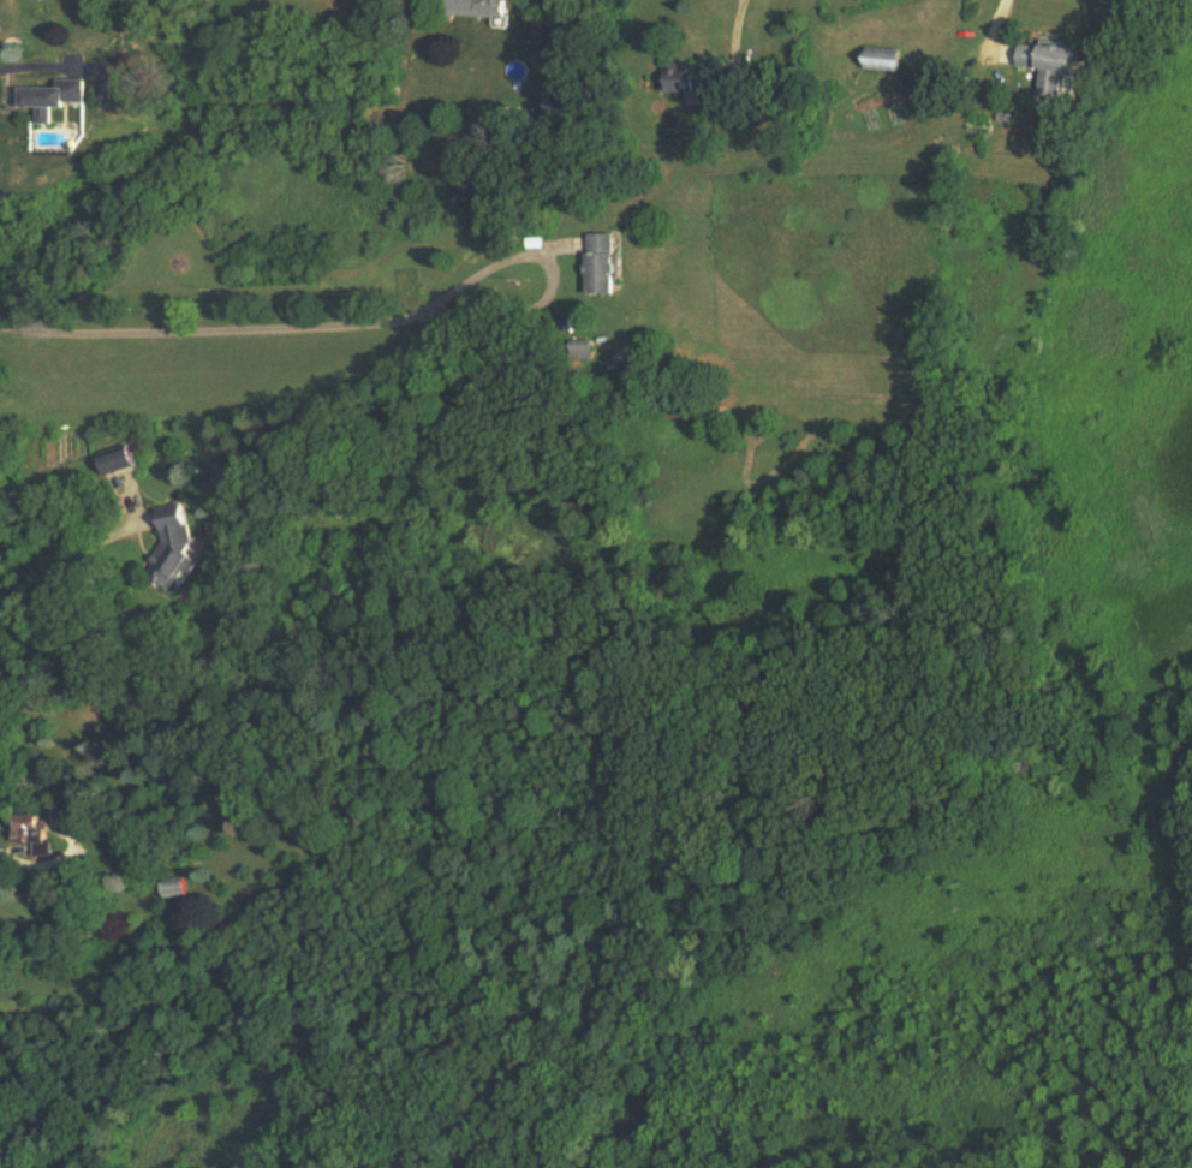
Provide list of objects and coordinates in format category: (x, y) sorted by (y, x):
building: (475, 8)
road: (1005, 23)
road: (741, 24)
building: (883, 58)
road: (44, 66)
building: (1051, 71)
building: (680, 77)
building: (52, 96)
building: (597, 262)
road: (287, 326)
building: (578, 348)
building: (117, 460)
building: (171, 546)
building: (34, 834)
building: (172, 887)

